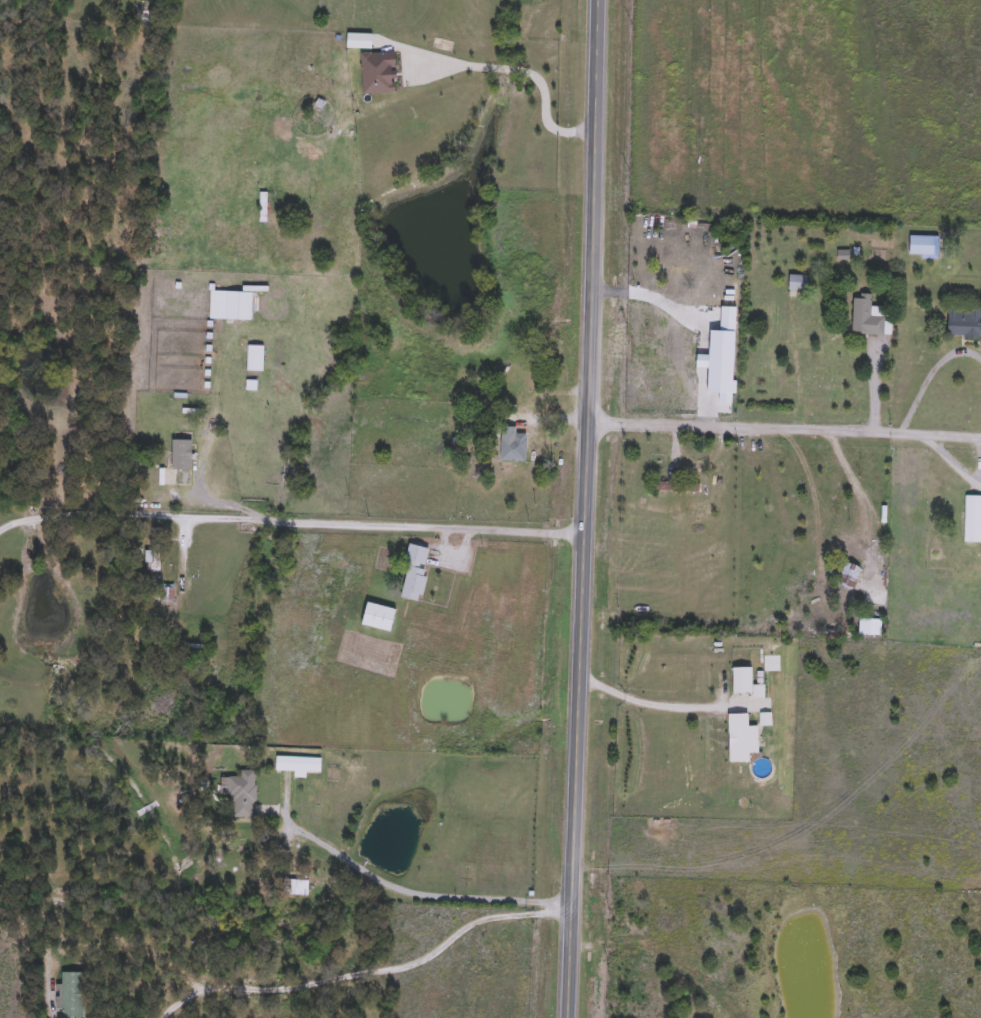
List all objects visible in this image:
building: (359, 41)
road: (523, 69)
building: (378, 73)
building: (924, 246)
building: (699, 261)
building: (798, 282)
road: (661, 301)
building: (229, 305)
building: (866, 316)
building: (964, 321)
building: (254, 358)
road: (700, 359)
road: (929, 373)
road: (873, 382)
road: (698, 393)
road: (209, 423)
road: (782, 425)
building: (513, 448)
road: (949, 458)
building: (164, 459)
building: (669, 488)
road: (207, 505)
road: (581, 509)
building: (675, 515)
road: (288, 519)
building: (973, 524)
building: (415, 573)
building: (849, 576)
building: (164, 594)
building: (875, 597)
building: (379, 617)
building: (195, 654)
road: (643, 700)
building: (296, 762)
building: (241, 793)
building: (298, 888)
road: (395, 888)
road: (86, 925)
building: (495, 948)
road: (367, 973)
building: (71, 995)
road: (53, 1016)

